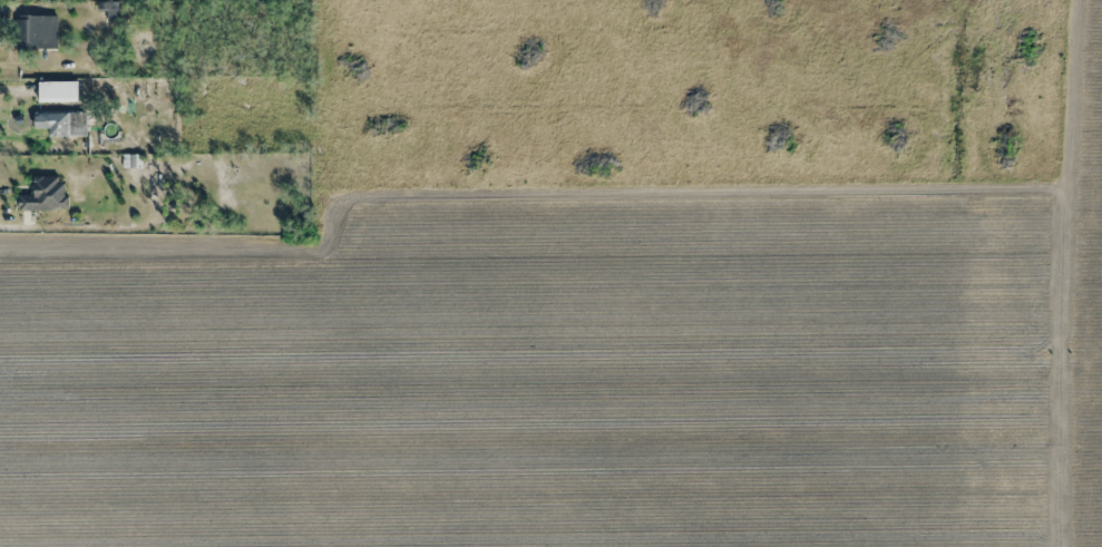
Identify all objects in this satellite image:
building: (37, 31)
building: (57, 91)
building: (61, 124)
building: (45, 195)
crop: (1086, 293)
crop: (546, 380)

